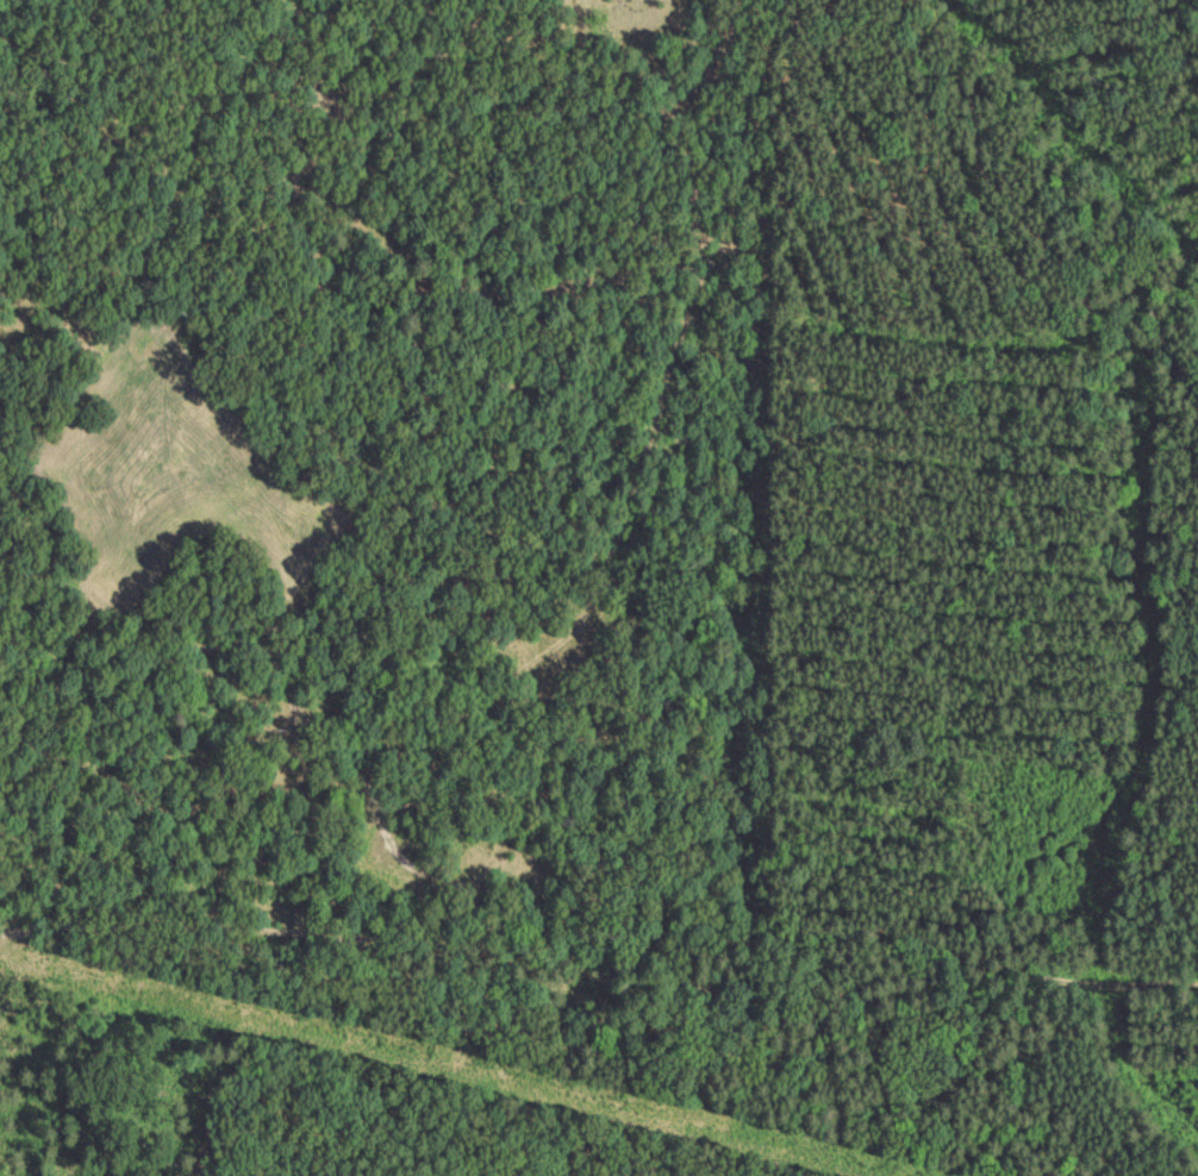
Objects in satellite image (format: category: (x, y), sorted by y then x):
road: (1010, 175)
road: (598, 950)

